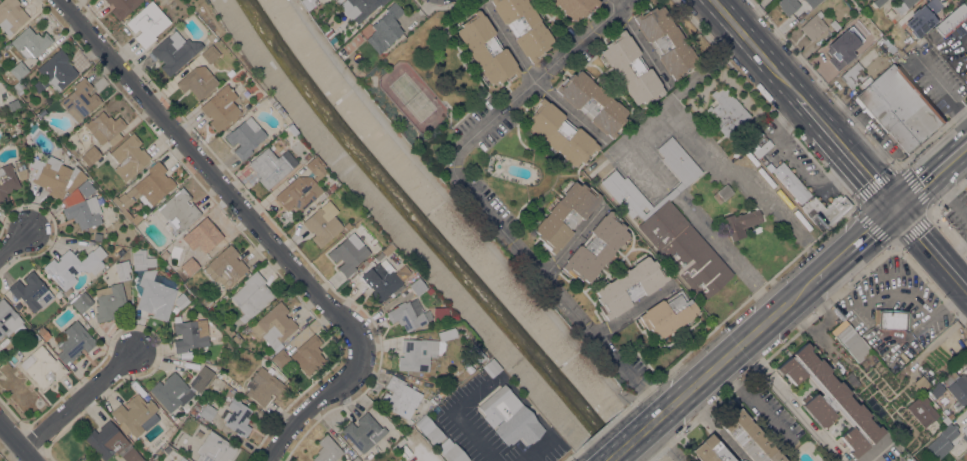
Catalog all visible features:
building: (339, 0)
building: (812, 2)
building: (308, 3)
building: (875, 4)
building: (788, 5)
building: (902, 5)
building: (122, 7)
building: (577, 7)
building: (358, 8)
building: (11, 15)
building: (922, 16)
building: (953, 18)
building: (147, 23)
building: (813, 25)
building: (835, 25)
building: (524, 26)
building: (385, 29)
building: (845, 30)
building: (327, 33)
building: (935, 33)
building: (871, 37)
road: (637, 39)
building: (664, 39)
building: (33, 43)
building: (7, 45)
building: (903, 46)
building: (487, 48)
road: (755, 48)
building: (174, 52)
building: (841, 52)
building: (209, 54)
road: (708, 62)
building: (631, 68)
building: (18, 69)
building: (55, 72)
building: (229, 72)
building: (853, 75)
building: (197, 81)
road: (534, 81)
building: (19, 87)
building: (269, 98)
road: (669, 98)
building: (79, 100)
building: (592, 102)
building: (13, 104)
building: (274, 104)
building: (220, 107)
building: (900, 108)
building: (726, 110)
building: (280, 111)
building: (105, 128)
building: (286, 128)
building: (560, 132)
building: (244, 137)
road: (621, 143)
road: (846, 152)
building: (90, 155)
building: (128, 157)
building: (770, 157)
building: (678, 160)
building: (271, 166)
building: (314, 166)
building: (22, 173)
road: (212, 173)
building: (55, 175)
road: (930, 176)
road: (751, 177)
building: (789, 180)
building: (7, 181)
road: (462, 184)
building: (330, 186)
building: (86, 188)
road: (665, 189)
building: (966, 189)
building: (145, 191)
building: (724, 191)
building: (298, 192)
road: (671, 193)
building: (625, 194)
road: (949, 195)
building: (664, 198)
building: (841, 204)
traffic signals: (895, 209)
building: (178, 210)
building: (811, 211)
building: (84, 212)
building: (565, 215)
building: (827, 215)
road: (466, 218)
building: (741, 222)
building: (322, 223)
building: (346, 225)
building: (97, 236)
road: (811, 241)
road: (14, 243)
road: (853, 244)
building: (198, 245)
road: (892, 245)
building: (595, 248)
road: (931, 248)
building: (386, 249)
building: (684, 249)
road: (955, 250)
building: (348, 253)
road: (726, 253)
building: (141, 259)
building: (364, 261)
building: (73, 266)
building: (225, 266)
building: (382, 279)
building: (416, 286)
building: (628, 286)
building: (427, 290)
building: (31, 291)
building: (153, 294)
building: (251, 295)
building: (181, 299)
building: (82, 301)
building: (109, 301)
railway: (792, 306)
building: (175, 309)
building: (438, 311)
building: (408, 314)
building: (668, 314)
building: (876, 316)
building: (9, 319)
building: (176, 319)
building: (893, 319)
building: (273, 325)
building: (246, 328)
building: (228, 330)
building: (44, 333)
building: (190, 334)
building: (445, 334)
building: (34, 338)
building: (237, 338)
building: (851, 340)
building: (72, 341)
road: (733, 351)
building: (416, 353)
building: (475, 353)
building: (308, 354)
building: (281, 358)
building: (204, 359)
building: (42, 366)
building: (490, 367)
building: (220, 374)
building: (201, 378)
building: (921, 383)
building: (263, 386)
building: (956, 387)
building: (936, 389)
building: (171, 391)
building: (233, 392)
building: (441, 392)
road: (650, 396)
building: (399, 397)
building: (435, 397)
building: (830, 399)
road: (76, 401)
road: (314, 402)
road: (790, 403)
building: (196, 407)
building: (922, 408)
building: (207, 411)
building: (133, 414)
building: (237, 416)
building: (509, 416)
building: (950, 416)
road: (713, 427)
building: (965, 428)
building: (430, 429)
building: (364, 432)
building: (948, 436)
building: (966, 436)
building: (750, 438)
road: (630, 440)
building: (966, 441)
road: (16, 442)
road: (666, 442)
building: (111, 443)
building: (175, 444)
building: (213, 448)
building: (327, 449)
building: (711, 450)
building: (452, 451)
road: (878, 452)
building: (182, 459)
building: (355, 459)
building: (170, 460)

